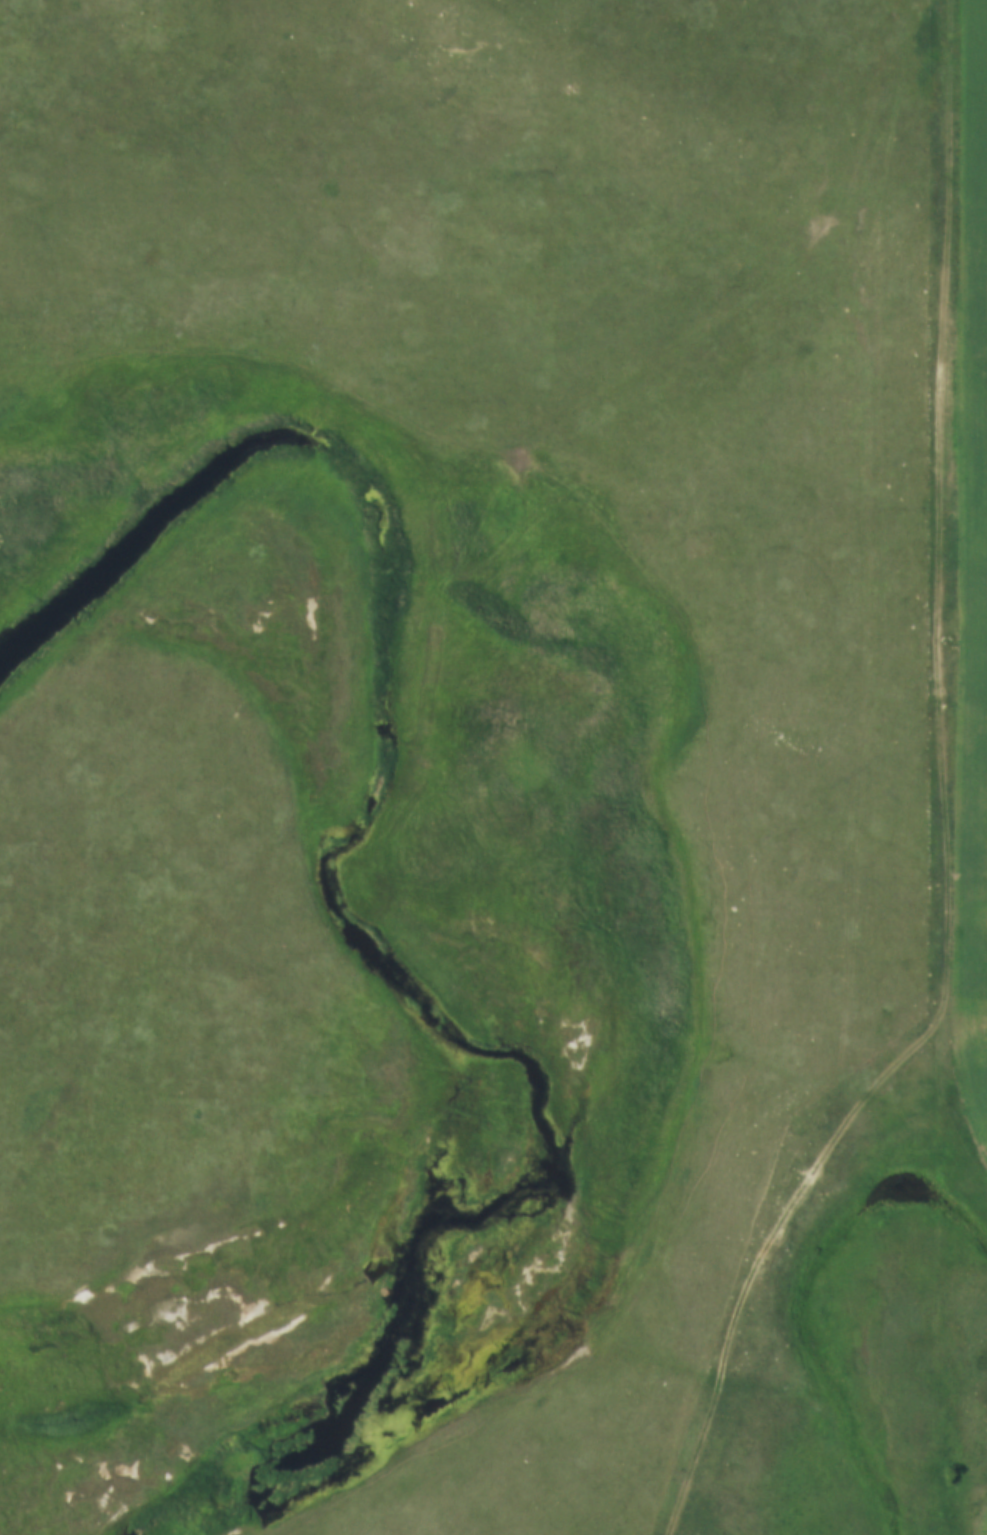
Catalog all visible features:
road: (945, 806)

